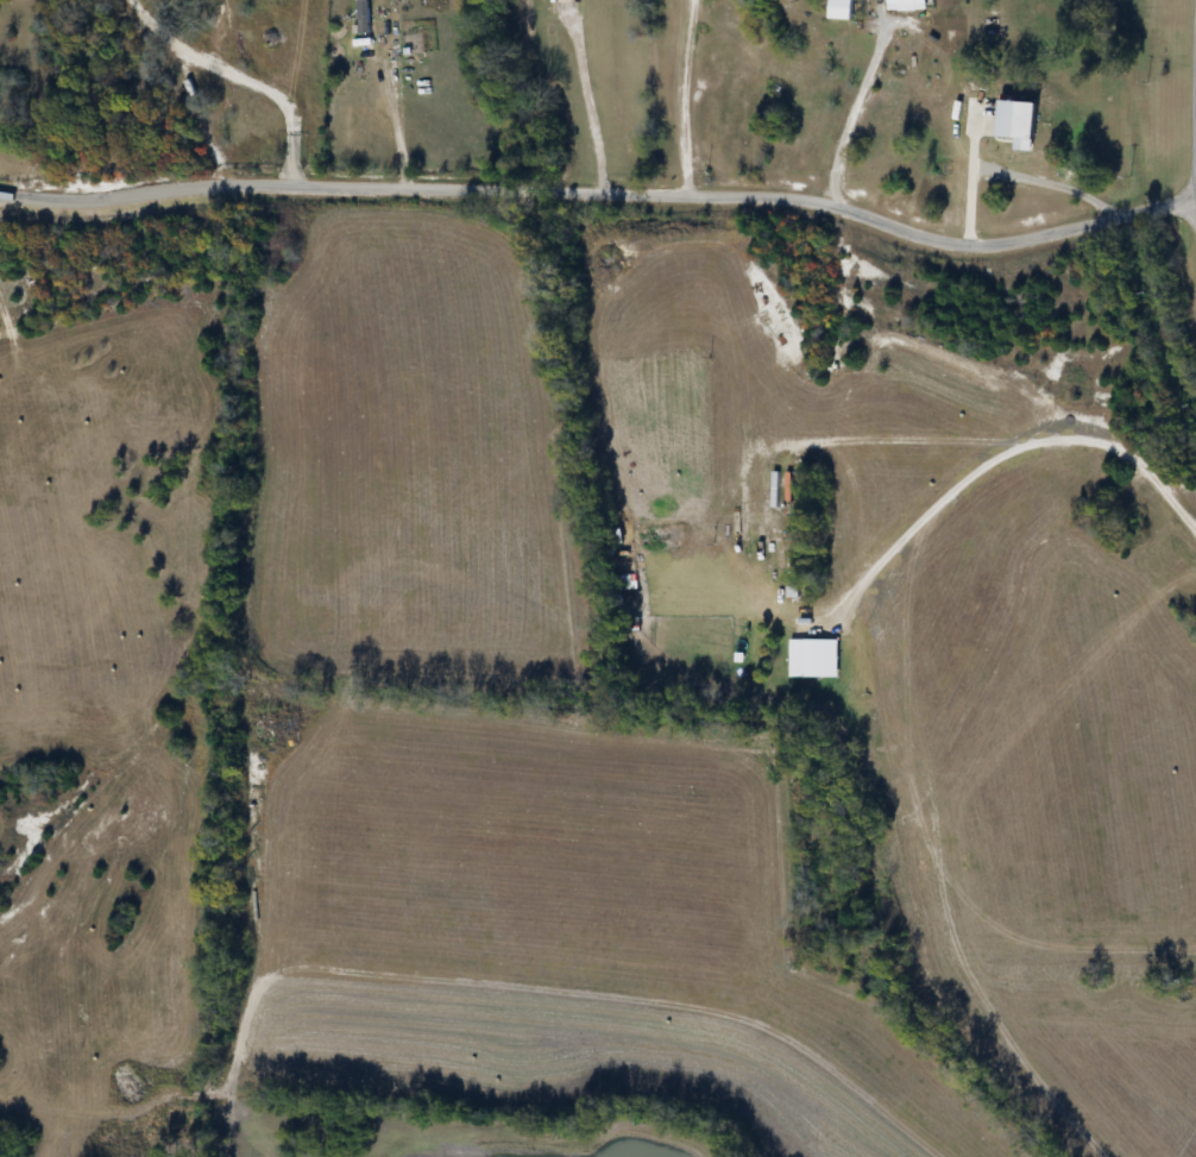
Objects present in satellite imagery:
building: (908, 2)
building: (843, 10)
building: (364, 17)
road: (244, 75)
road: (687, 99)
road: (586, 100)
road: (854, 109)
road: (390, 118)
road: (975, 180)
road: (1051, 181)
road: (603, 196)
road: (987, 465)

